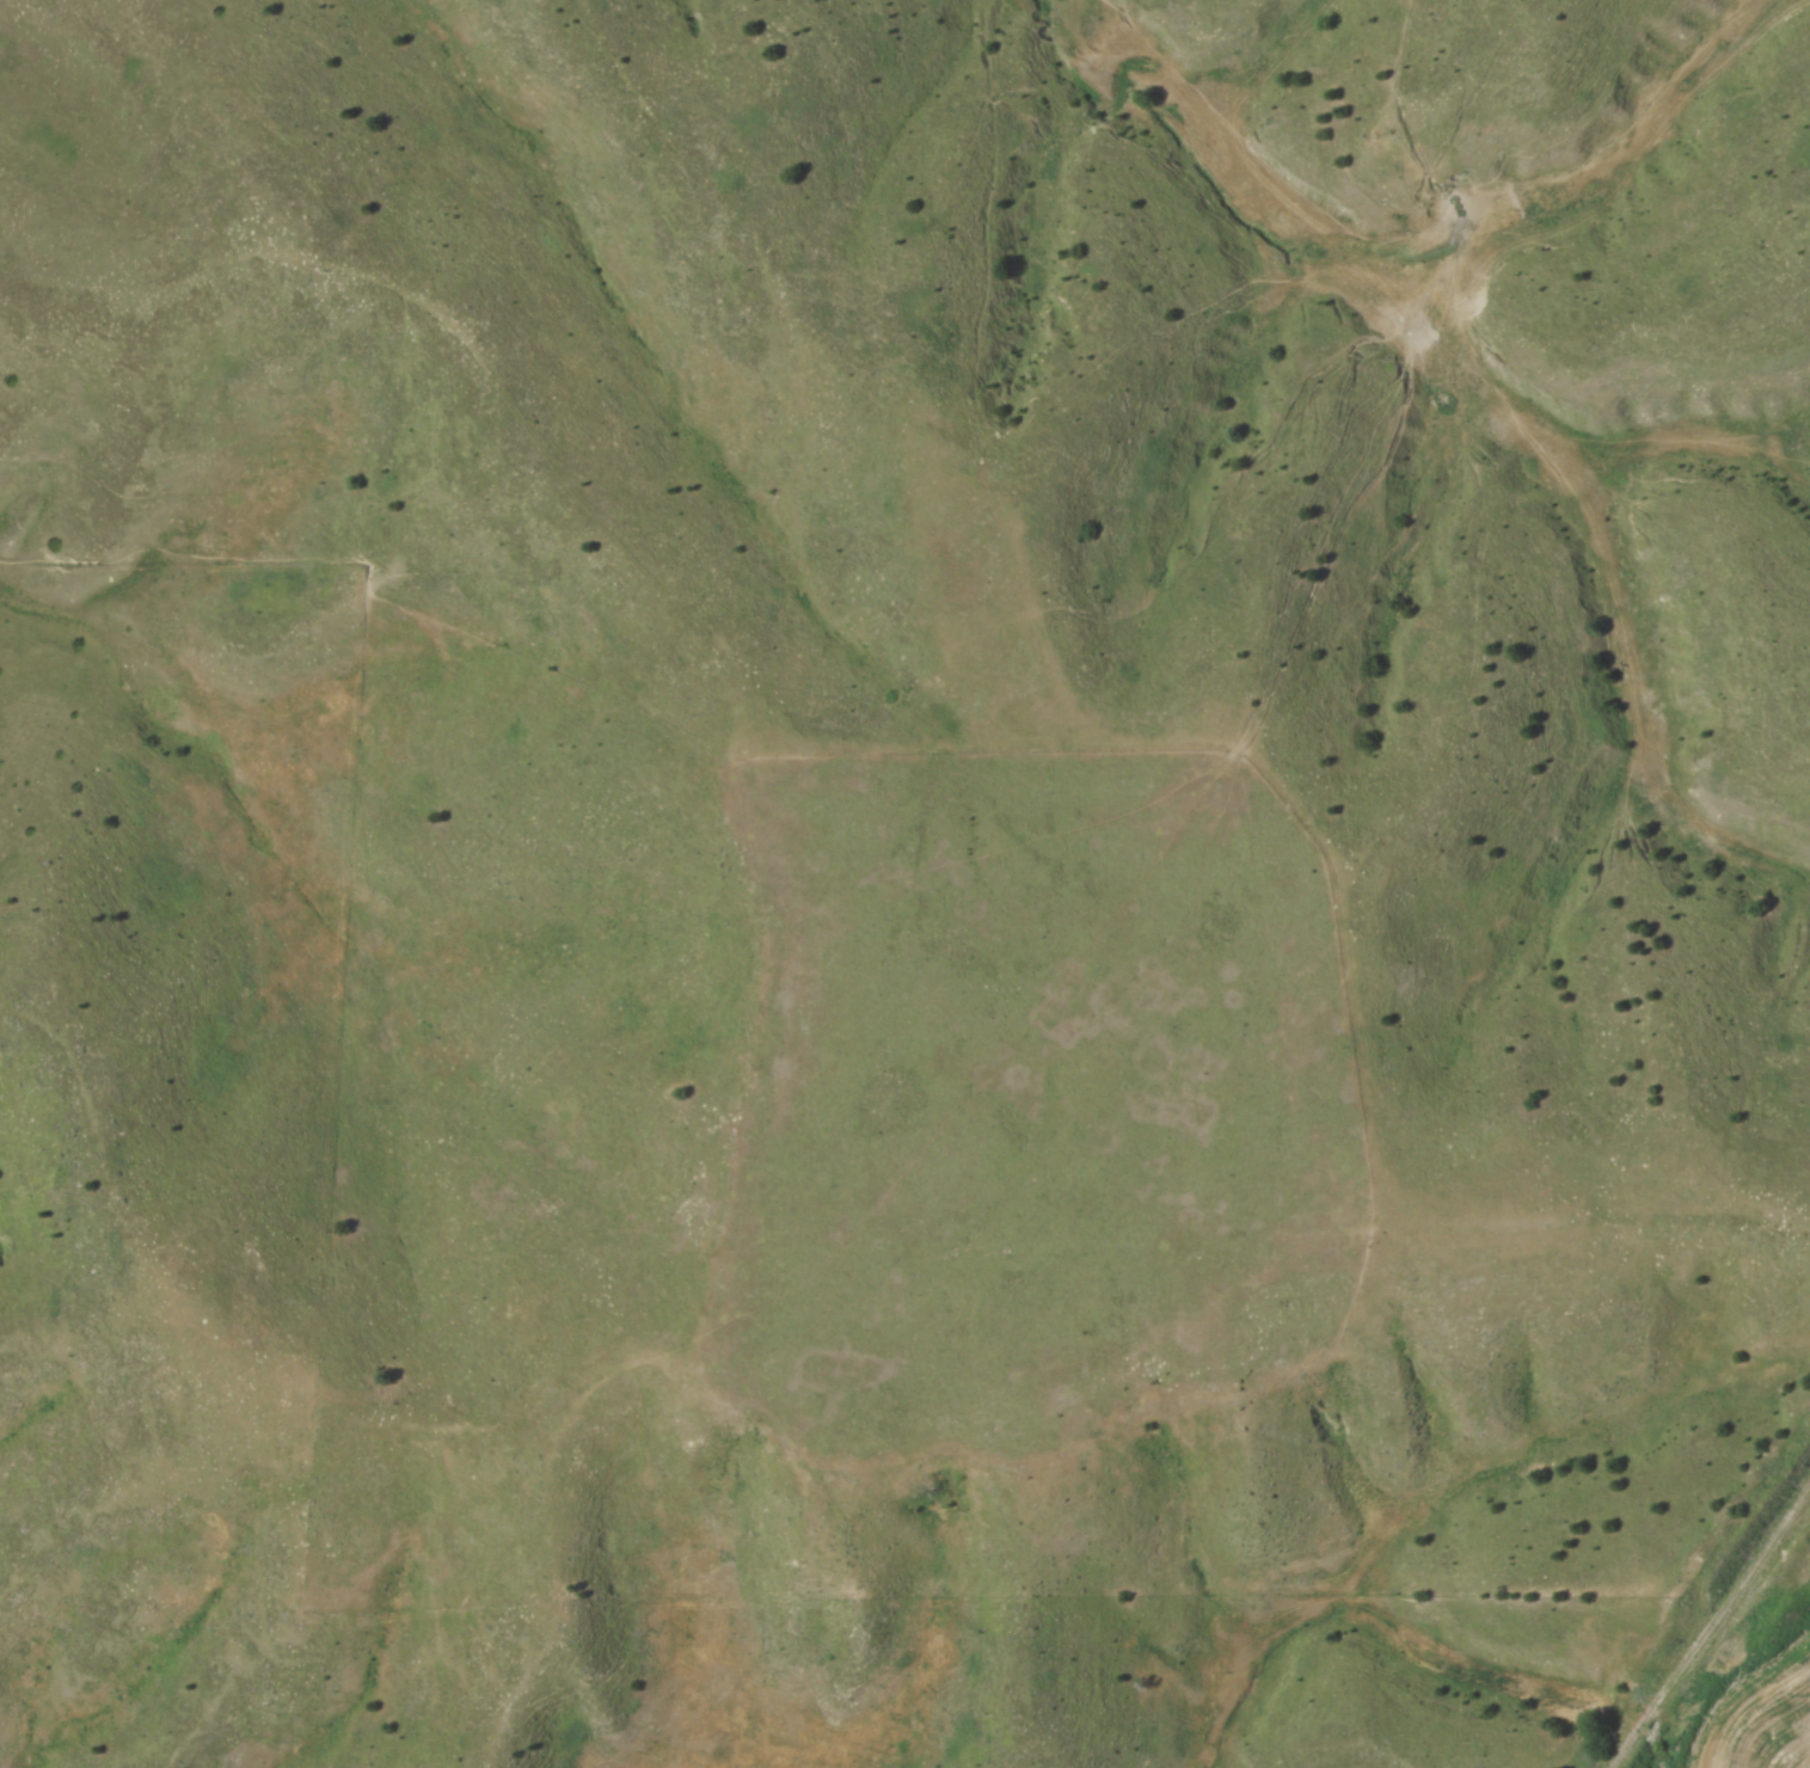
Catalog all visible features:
railway: (1706, 1616)
crop: (1761, 1717)

